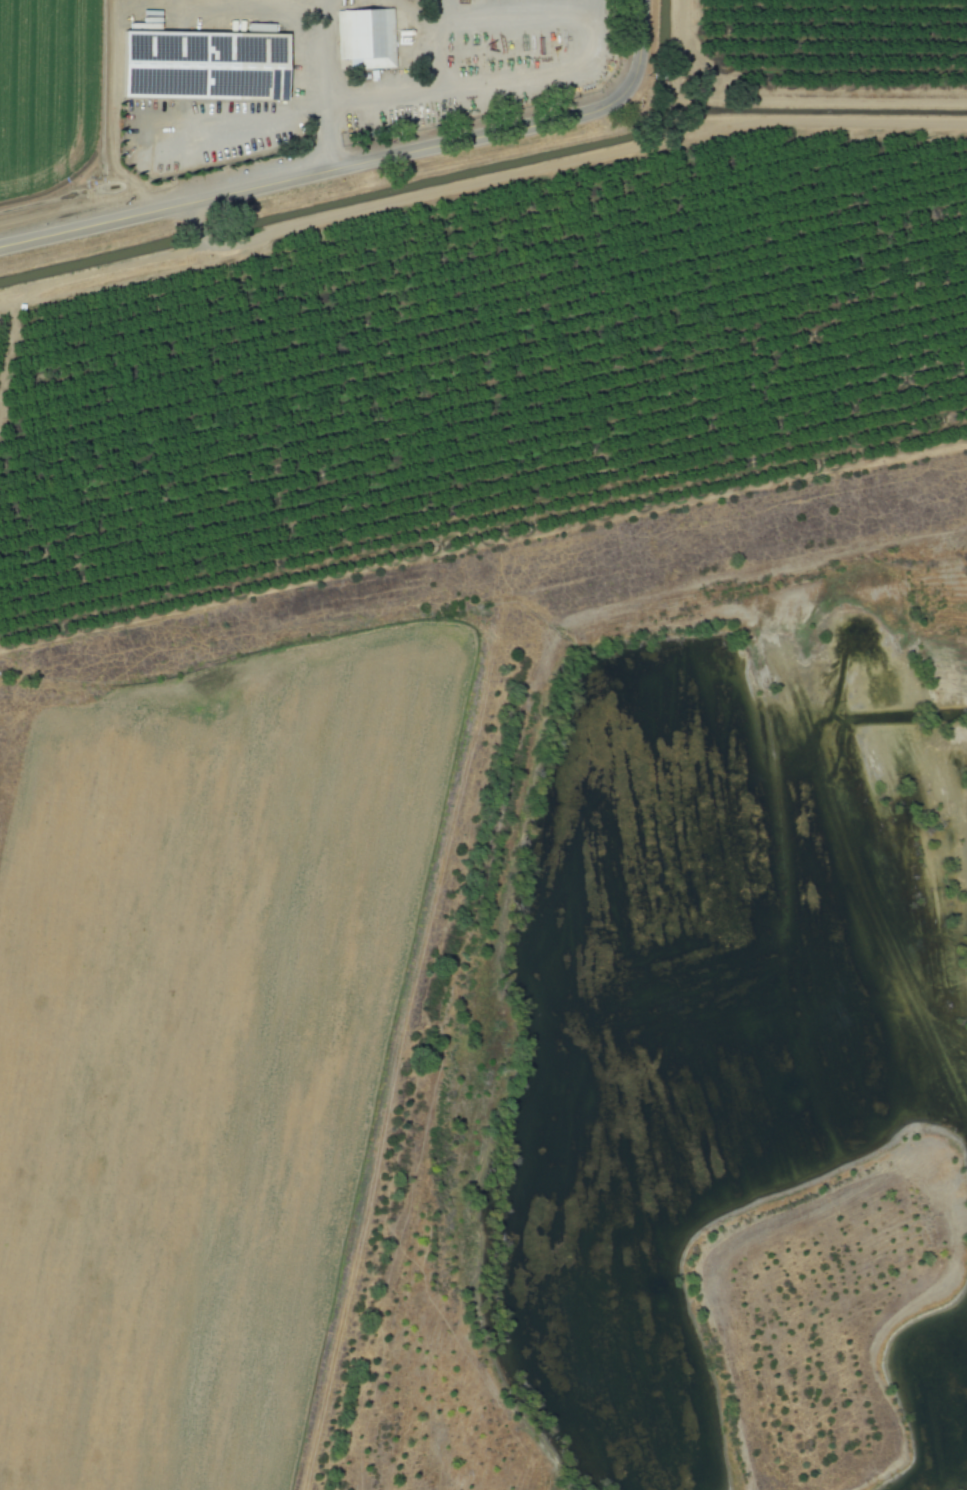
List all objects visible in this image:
building: (259, 27)
building: (365, 38)
building: (202, 64)
road: (488, 78)
road: (323, 86)
road: (361, 164)

